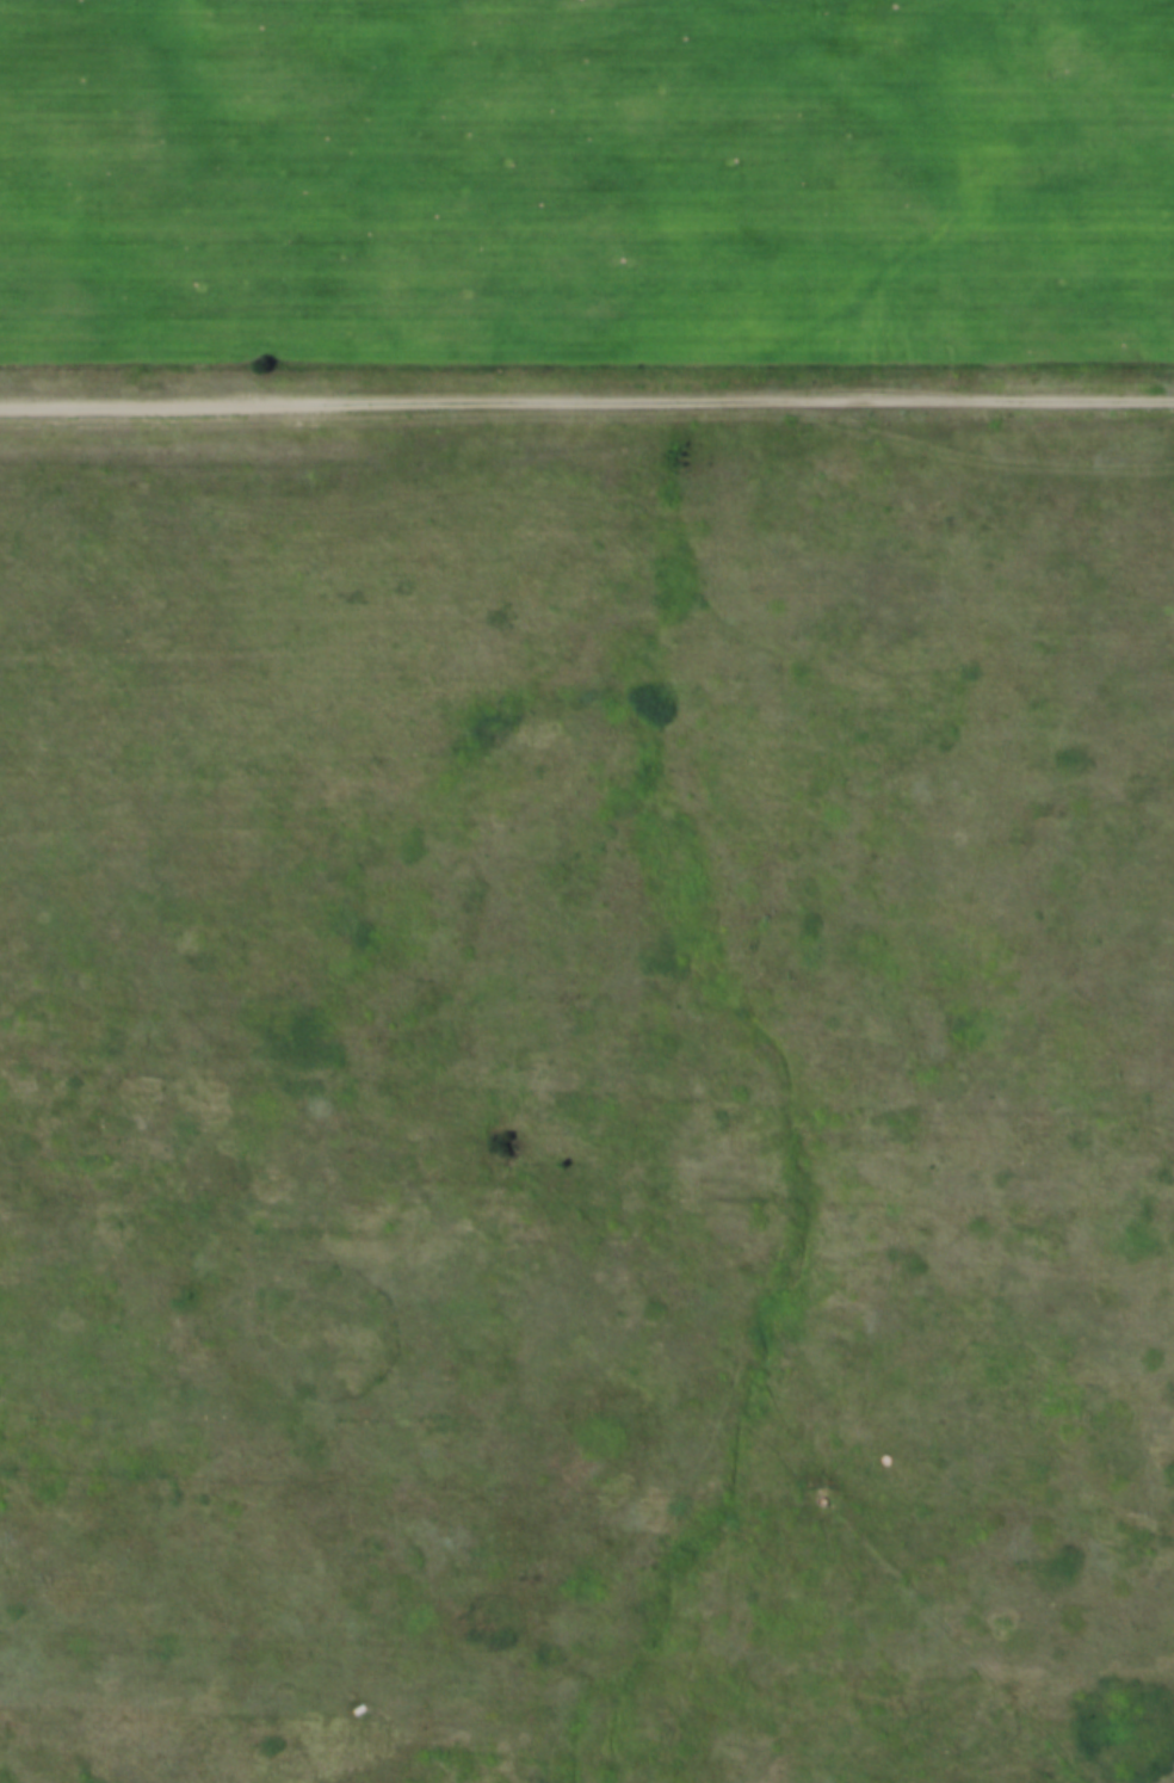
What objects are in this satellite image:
road: (586, 400)

